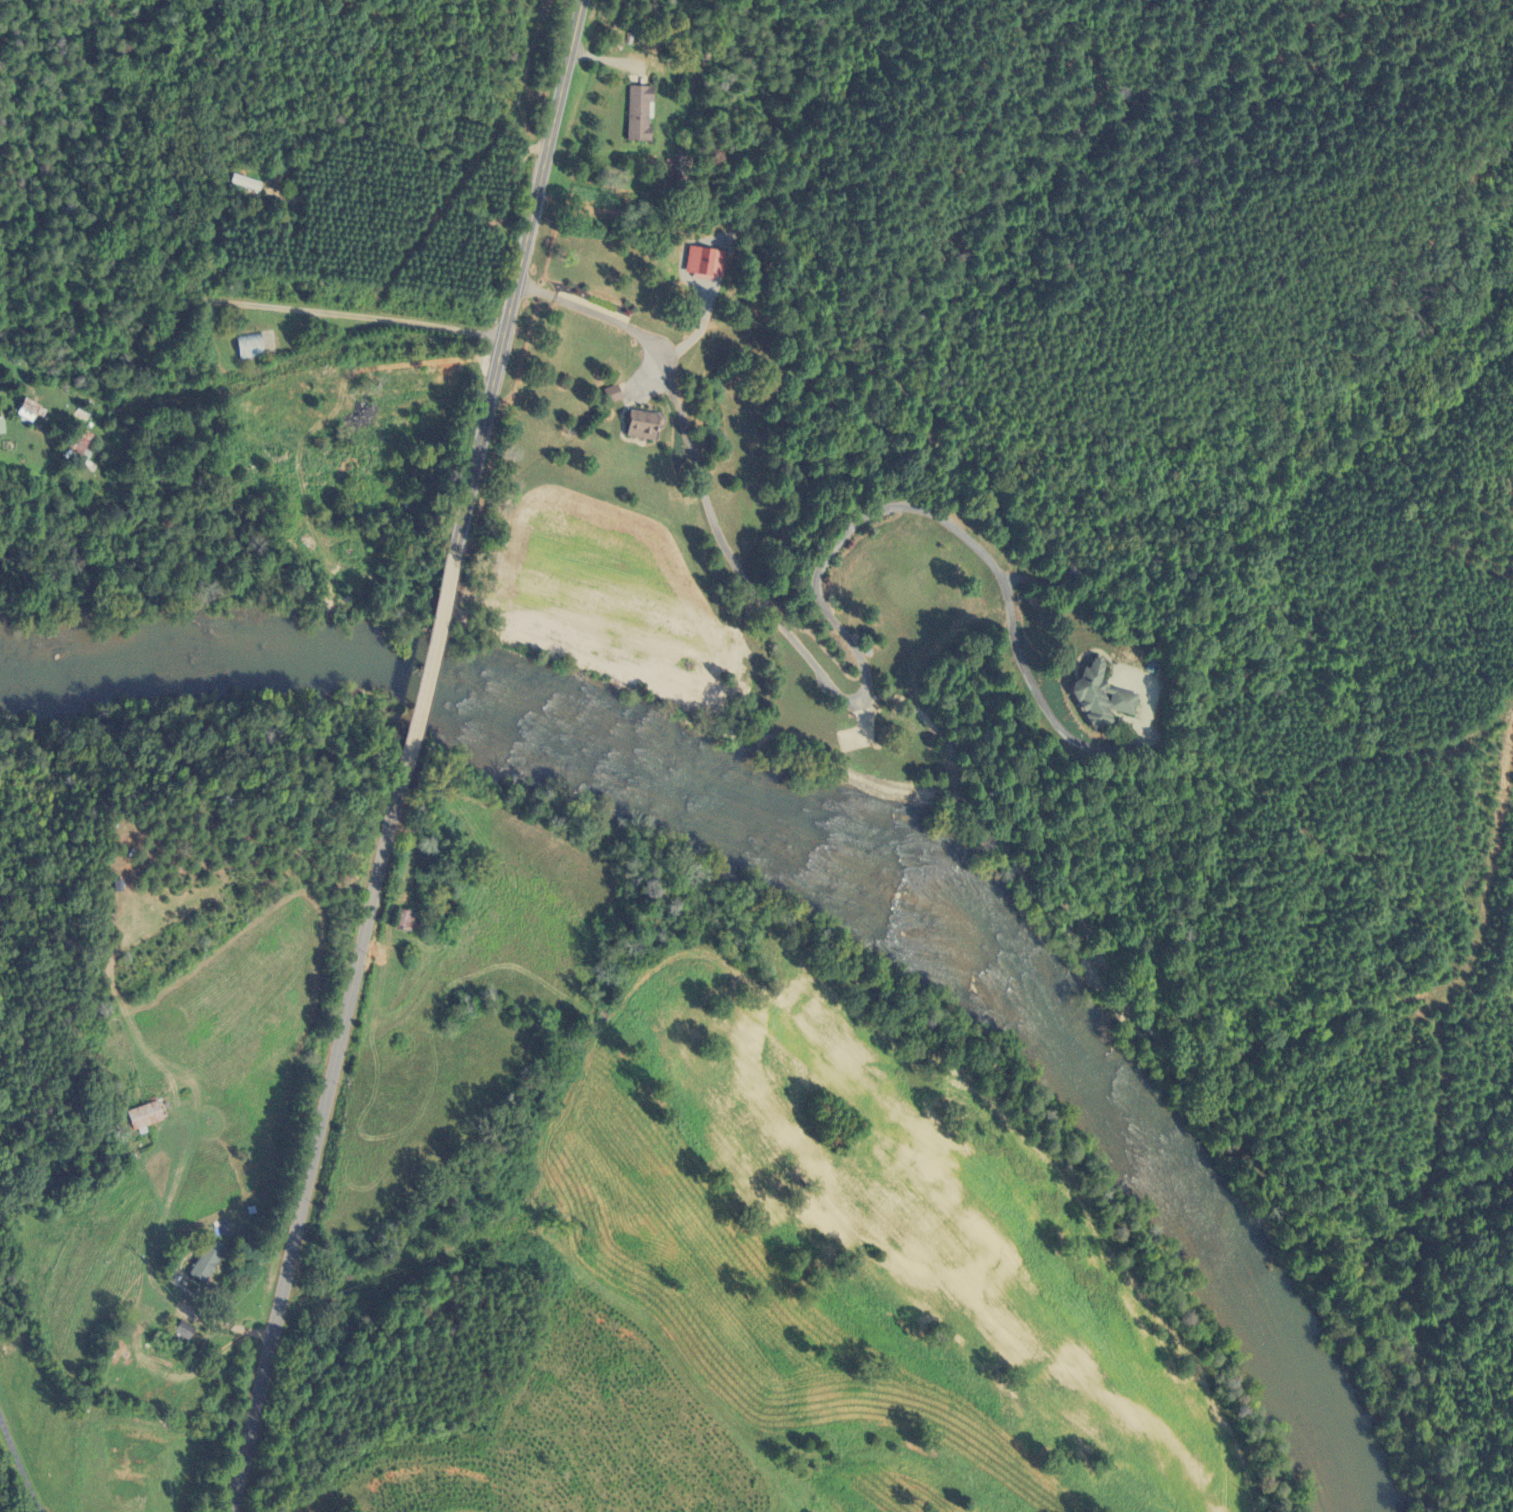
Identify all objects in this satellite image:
building: (644, 112)
building: (704, 258)
road: (521, 274)
road: (253, 302)
building: (255, 346)
building: (646, 425)
building: (3, 426)
road: (862, 662)
road: (431, 670)
building: (1123, 693)
river: (835, 841)
road: (1430, 1094)
building: (149, 1115)
road: (318, 1151)
building: (213, 1264)
road: (20, 1464)

